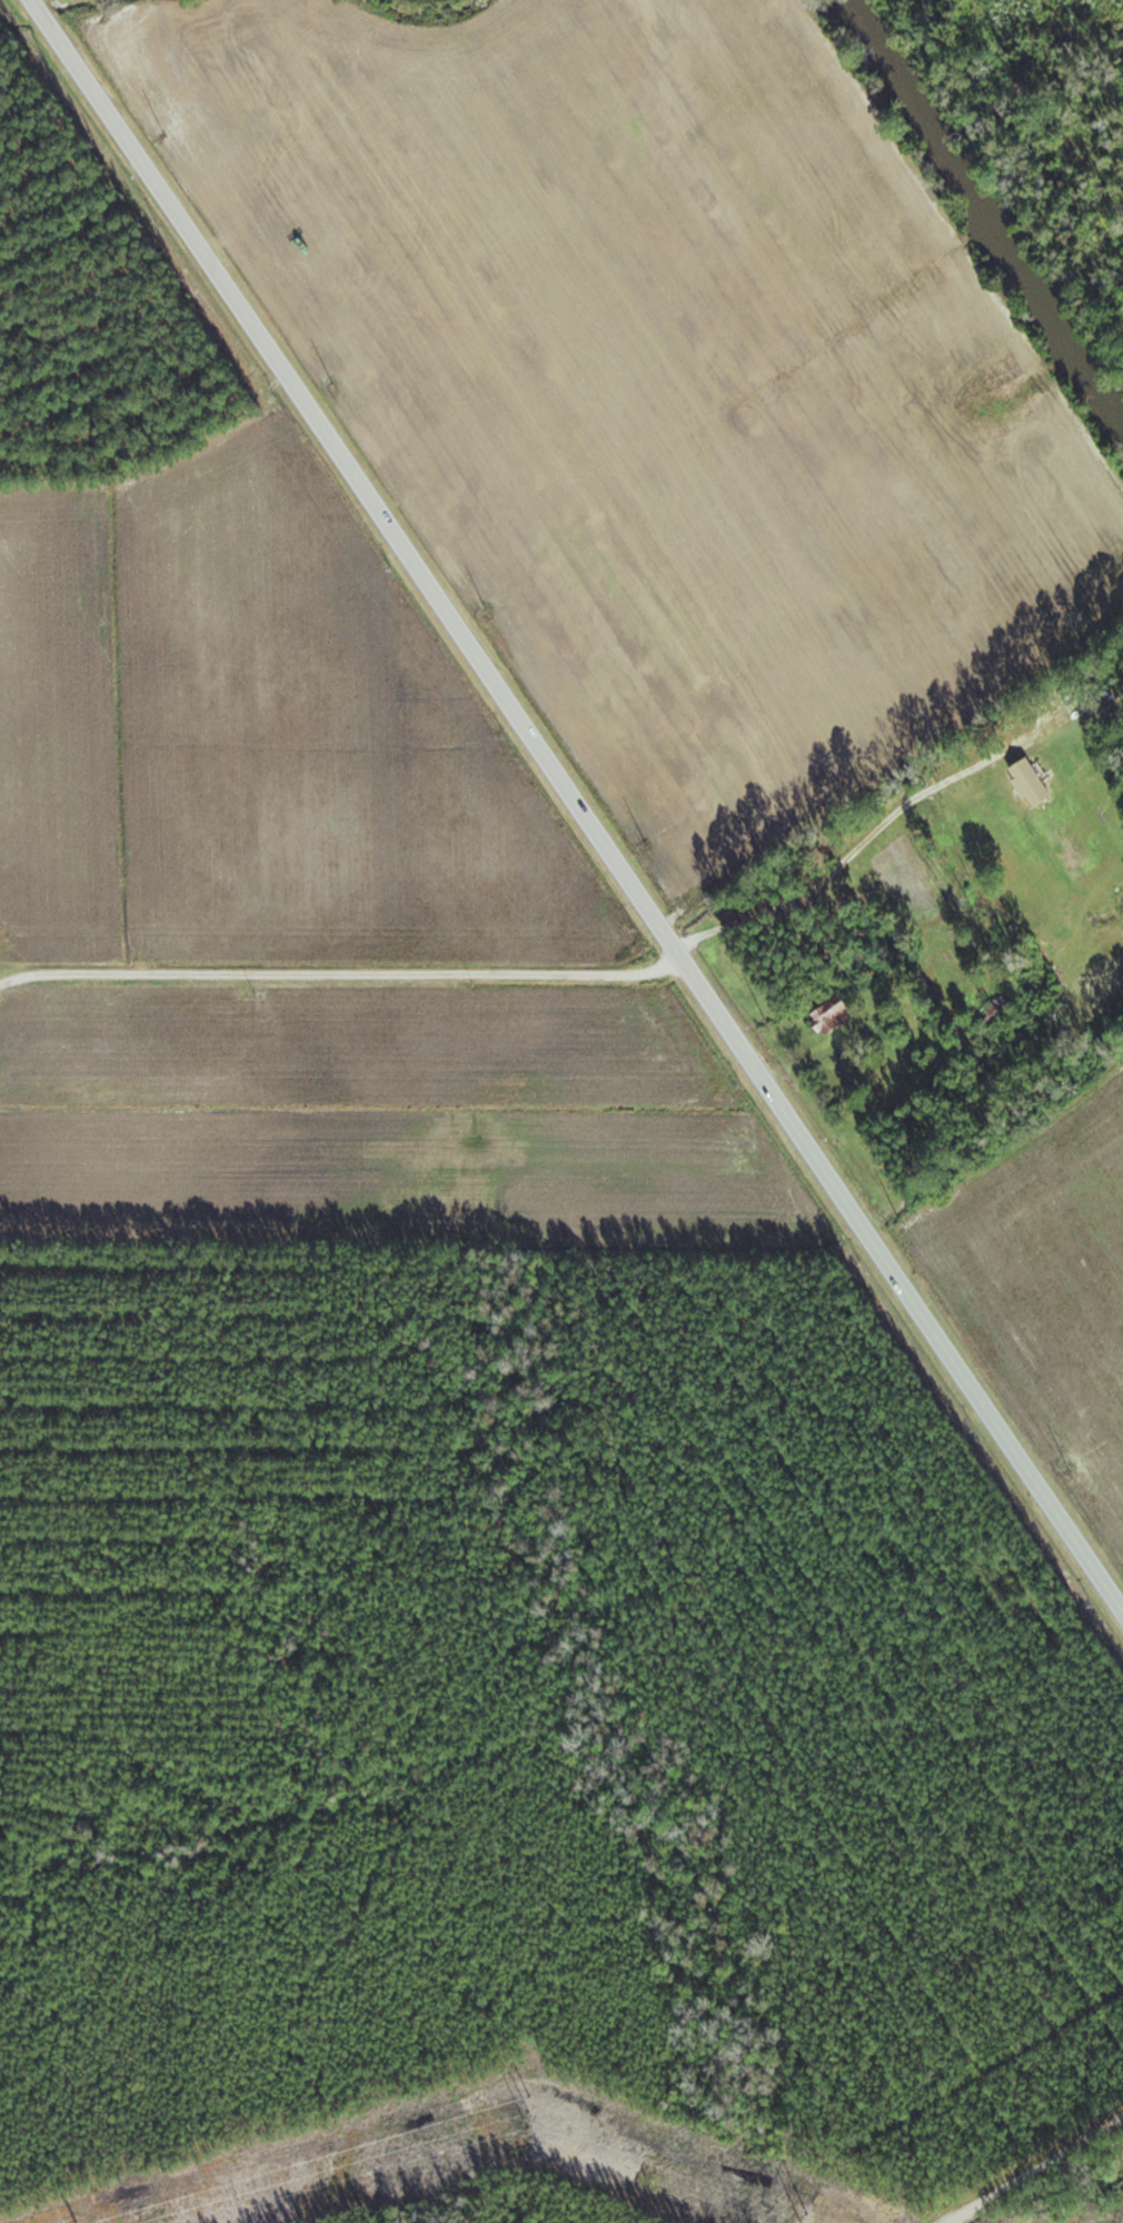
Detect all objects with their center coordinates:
road: (578, 801)
building: (1040, 802)
building: (837, 1016)
road: (993, 2143)

